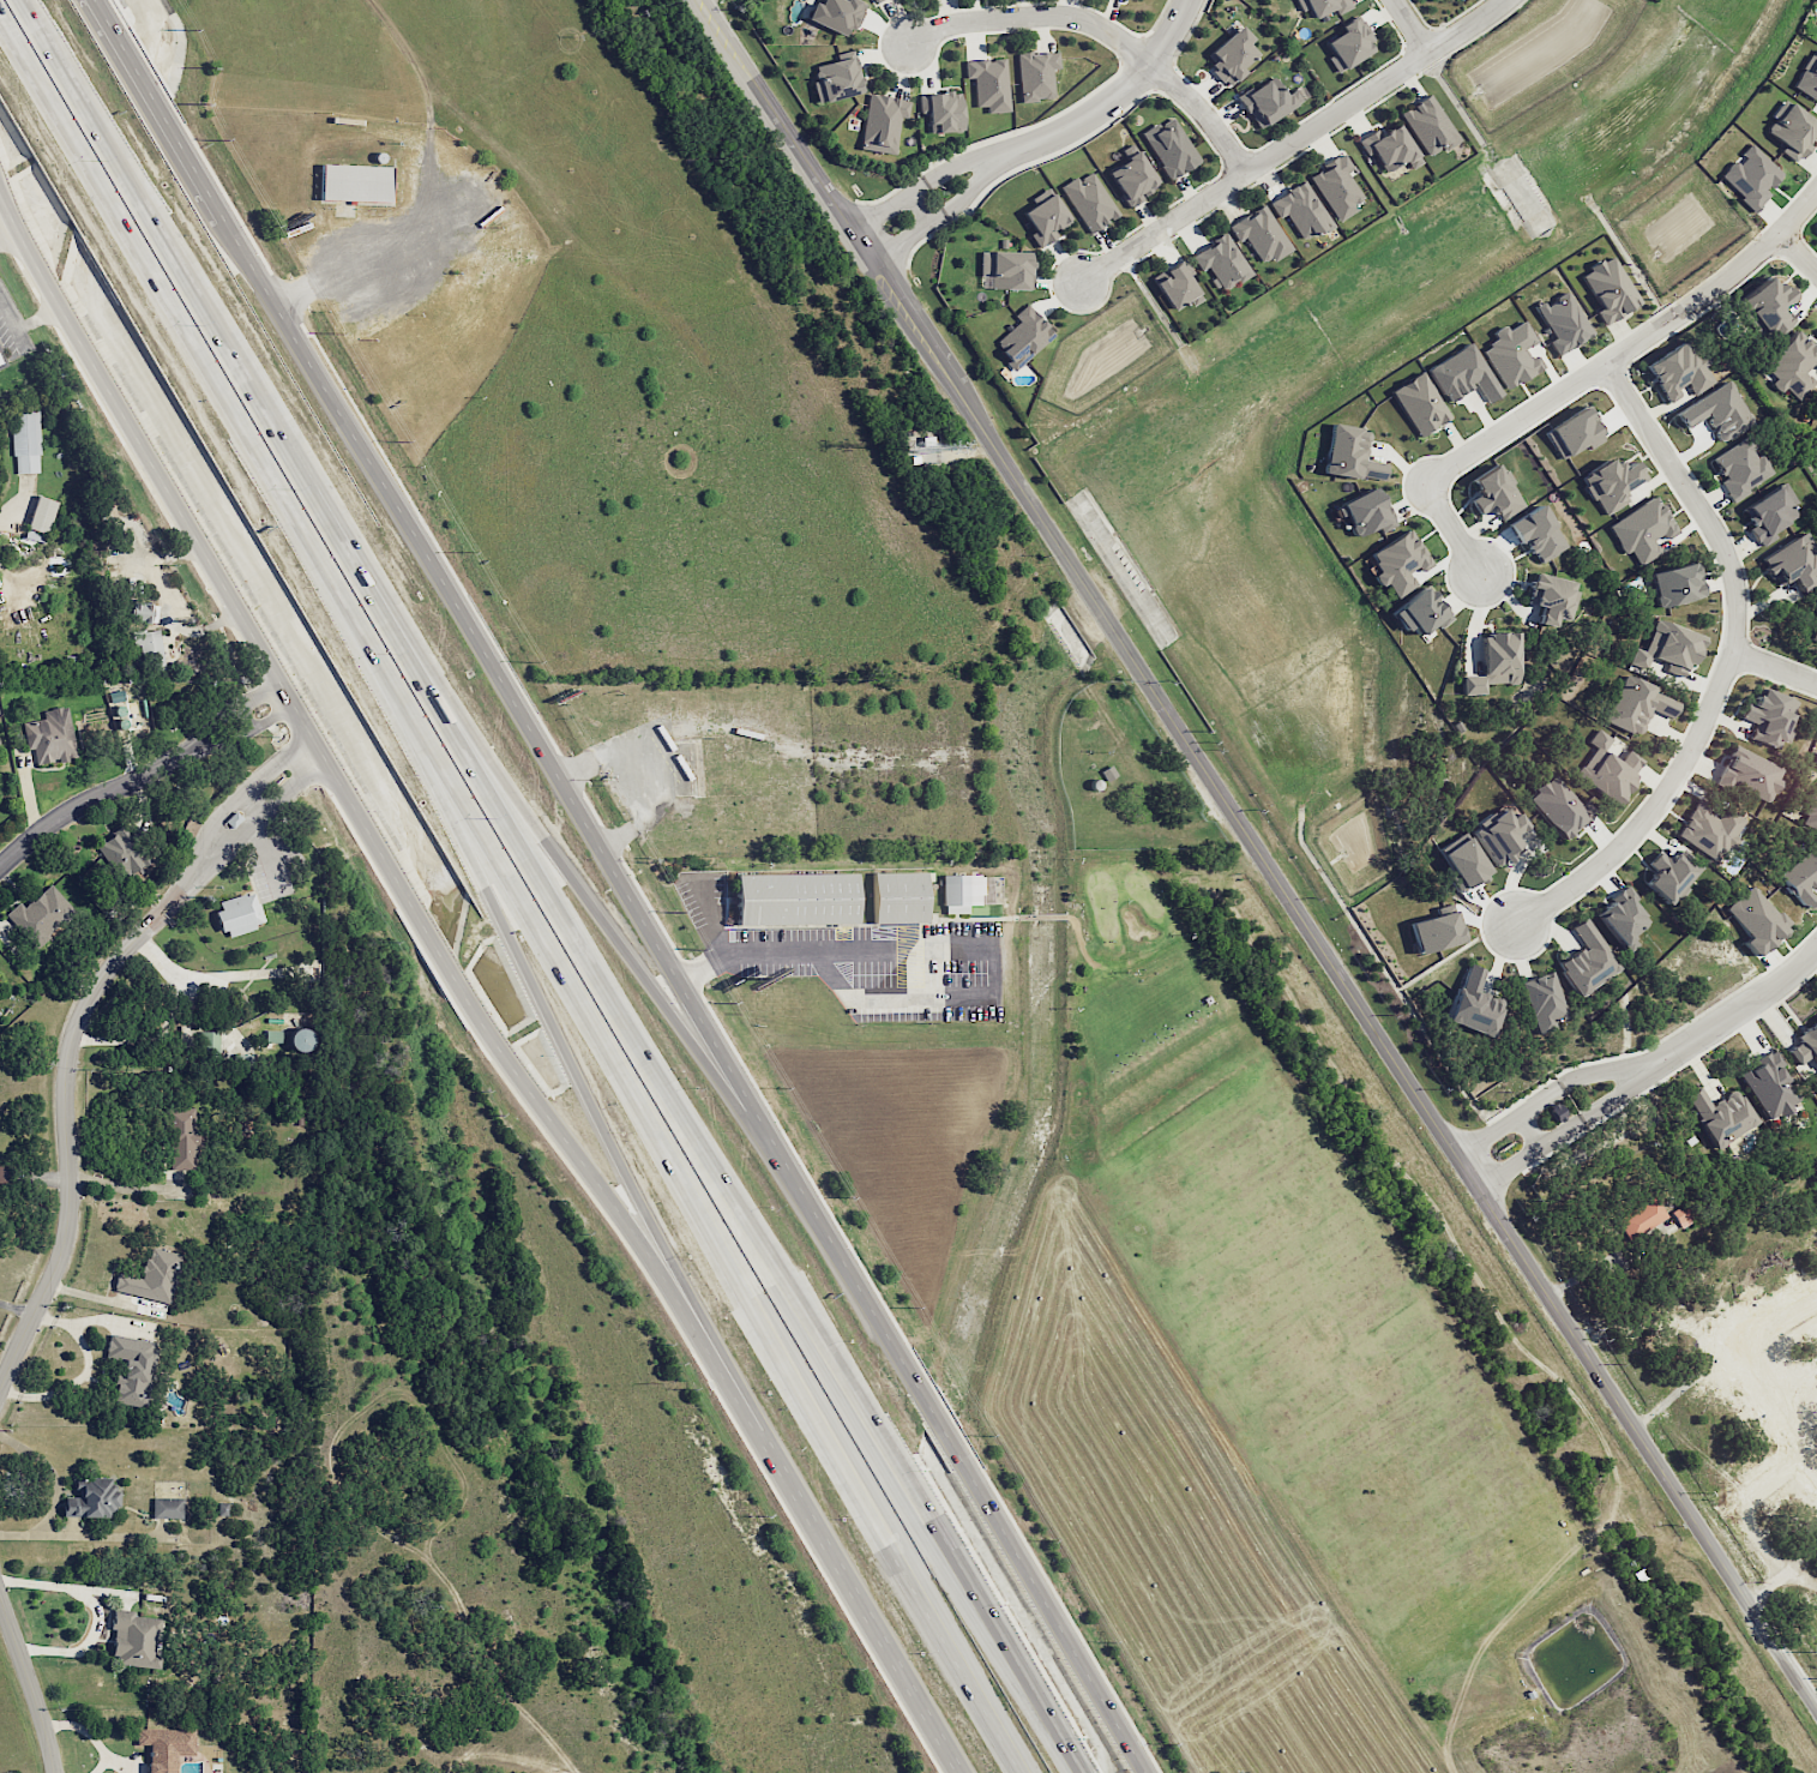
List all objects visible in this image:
building: (876, 0)
building: (1436, 0)
road: (704, 1)
building: (1323, 6)
building: (836, 14)
road: (1410, 28)
road: (1105, 30)
building: (1348, 43)
building: (1231, 55)
building: (1036, 74)
building: (1807, 76)
building: (836, 79)
building: (988, 83)
road: (1113, 98)
building: (1268, 101)
road: (155, 108)
building: (941, 110)
building: (882, 122)
building: (1428, 125)
building: (1791, 128)
road: (1294, 143)
building: (1169, 148)
building: (1389, 148)
road: (956, 168)
building: (1132, 176)
building: (1750, 176)
building: (353, 181)
building: (1336, 186)
road: (969, 193)
building: (1088, 202)
road: (920, 210)
building: (1300, 210)
road: (882, 214)
building: (1043, 217)
road: (7, 218)
building: (1816, 222)
building: (1261, 234)
road: (901, 244)
road: (1799, 253)
building: (1221, 262)
building: (1004, 270)
building: (1175, 286)
building: (1608, 289)
building: (1768, 306)
road: (25, 321)
building: (1563, 321)
building: (1023, 337)
road: (1631, 347)
building: (1511, 354)
building: (1, 359)
building: (1, 365)
building: (1792, 365)
road: (206, 372)
building: (1677, 372)
building: (1462, 374)
building: (1419, 403)
building: (1716, 411)
building: (1572, 433)
building: (25, 441)
building: (1350, 453)
building: (1740, 468)
building: (1608, 482)
building: (1493, 493)
building: (1365, 511)
building: (1769, 512)
building: (40, 518)
road: (1455, 525)
building: (1641, 529)
building: (1536, 534)
building: (1398, 561)
building: (1791, 561)
building: (1674, 584)
building: (1552, 597)
building: (140, 611)
building: (1420, 612)
building: (1815, 633)
road: (396, 641)
building: (1666, 647)
building: (146, 648)
building: (1494, 662)
road: (1728, 663)
road: (1775, 667)
road: (258, 693)
building: (1636, 705)
road: (271, 716)
road: (243, 717)
building: (1768, 717)
building: (130, 721)
road: (209, 725)
building: (50, 737)
road: (219, 744)
road: (277, 764)
building: (1606, 768)
building: (1751, 771)
road: (293, 785)
road: (88, 799)
road: (254, 803)
building: (1556, 805)
building: (1812, 812)
road: (219, 817)
building: (236, 821)
building: (1708, 829)
road: (240, 835)
building: (1497, 835)
building: (124, 853)
road: (1258, 853)
building: (1462, 863)
road: (198, 871)
building: (265, 876)
building: (1668, 876)
building: (1801, 877)
building: (958, 888)
building: (897, 895)
building: (793, 897)
road: (161, 903)
road: (169, 912)
building: (239, 913)
building: (38, 914)
road: (597, 915)
building: (1622, 918)
building: (1755, 919)
road: (705, 925)
building: (1436, 931)
road: (830, 950)
building: (1587, 958)
road: (463, 988)
road: (684, 992)
road: (891, 1000)
building: (1544, 1002)
building: (1474, 1003)
road: (1738, 1009)
road: (546, 1010)
road: (583, 1010)
building: (300, 1040)
building: (210, 1044)
building: (1805, 1044)
road: (1582, 1076)
building: (1815, 1080)
building: (1769, 1086)
road: (1600, 1107)
building: (1557, 1112)
building: (1721, 1114)
road: (1529, 1128)
road: (1486, 1130)
building: (182, 1137)
road: (68, 1153)
road: (1506, 1165)
building: (4, 1173)
road: (128, 1185)
building: (1641, 1218)
building: (156, 1278)
road: (17, 1310)
road: (1785, 1326)
building: (131, 1368)
road: (1783, 1405)
road: (1756, 1492)
building: (91, 1497)
building: (167, 1507)
building: (222, 1509)
road: (920, 1528)
road: (67, 1533)
road: (891, 1534)
road: (64, 1585)
building: (133, 1639)
road: (83, 1641)
road: (30, 1683)
building: (160, 1744)

